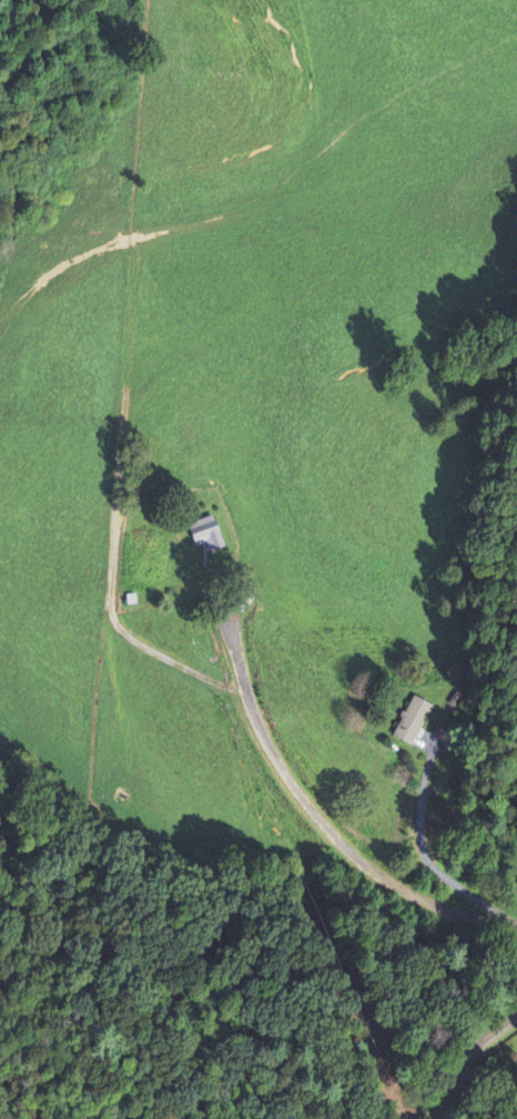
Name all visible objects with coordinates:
building: (203, 532)
building: (412, 722)
road: (324, 821)
road: (468, 1060)

